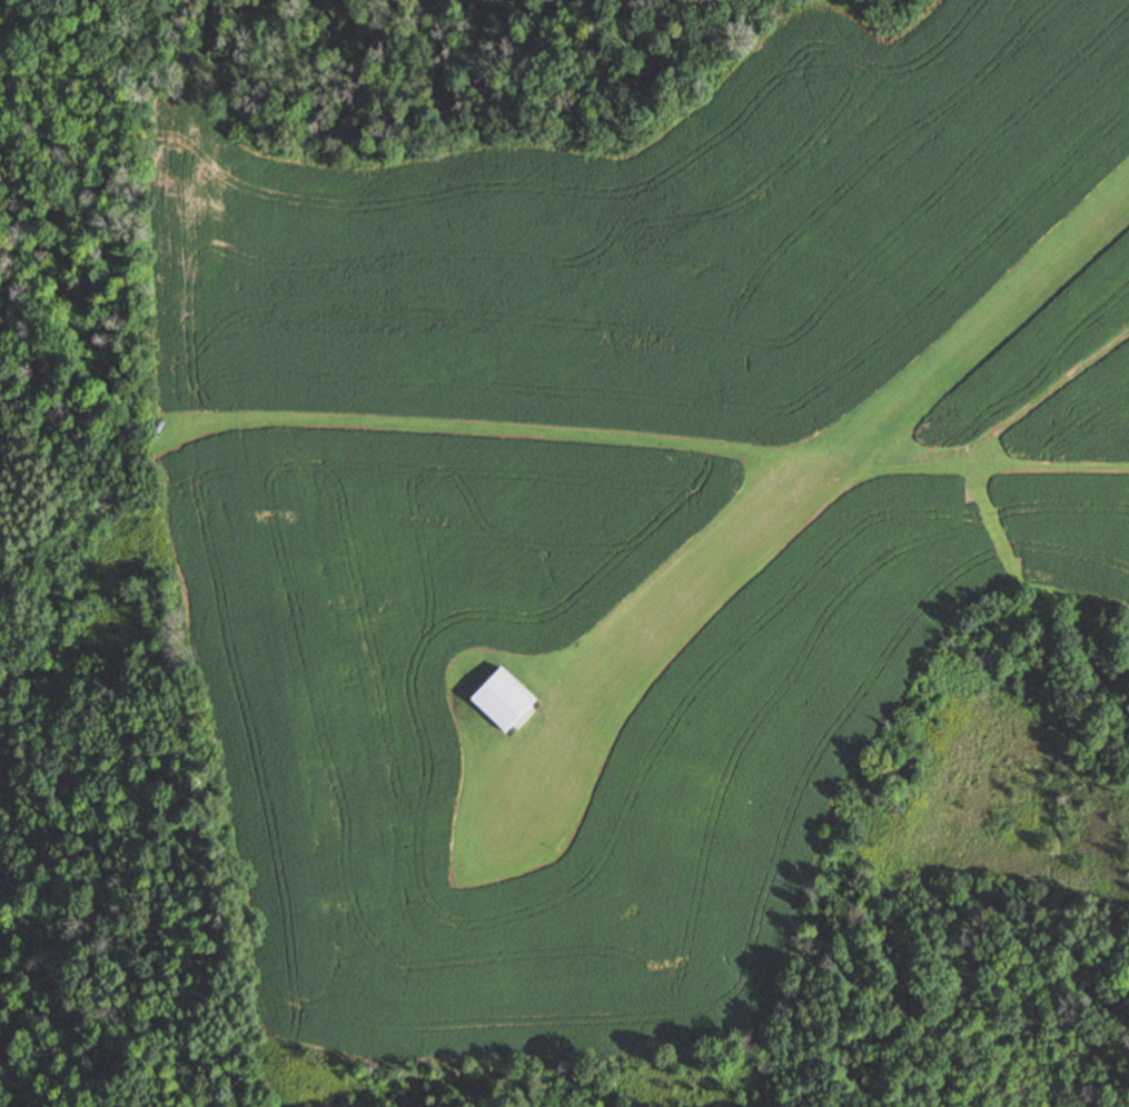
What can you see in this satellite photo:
road: (1017, 415)
airport runway: (804, 477)
crop: (1072, 537)
building: (504, 700)
crop: (323, 729)

